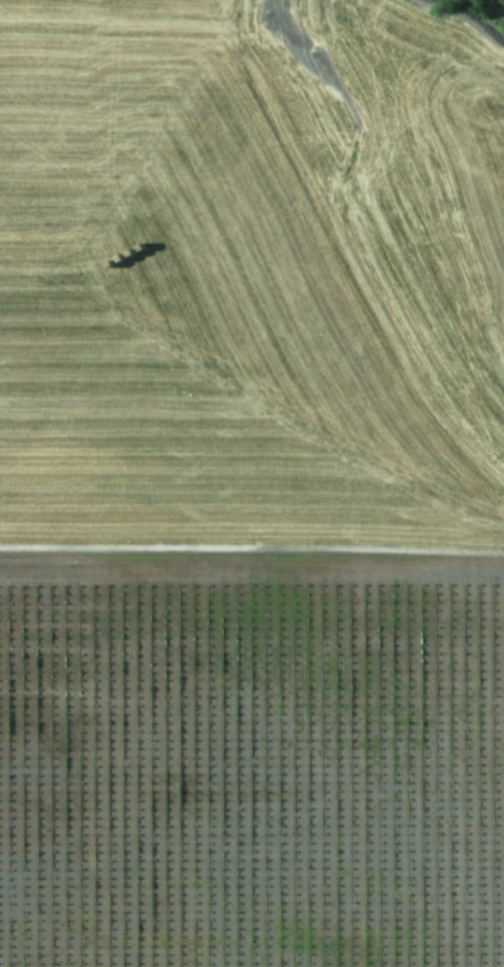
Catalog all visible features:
crop: (250, 485)

